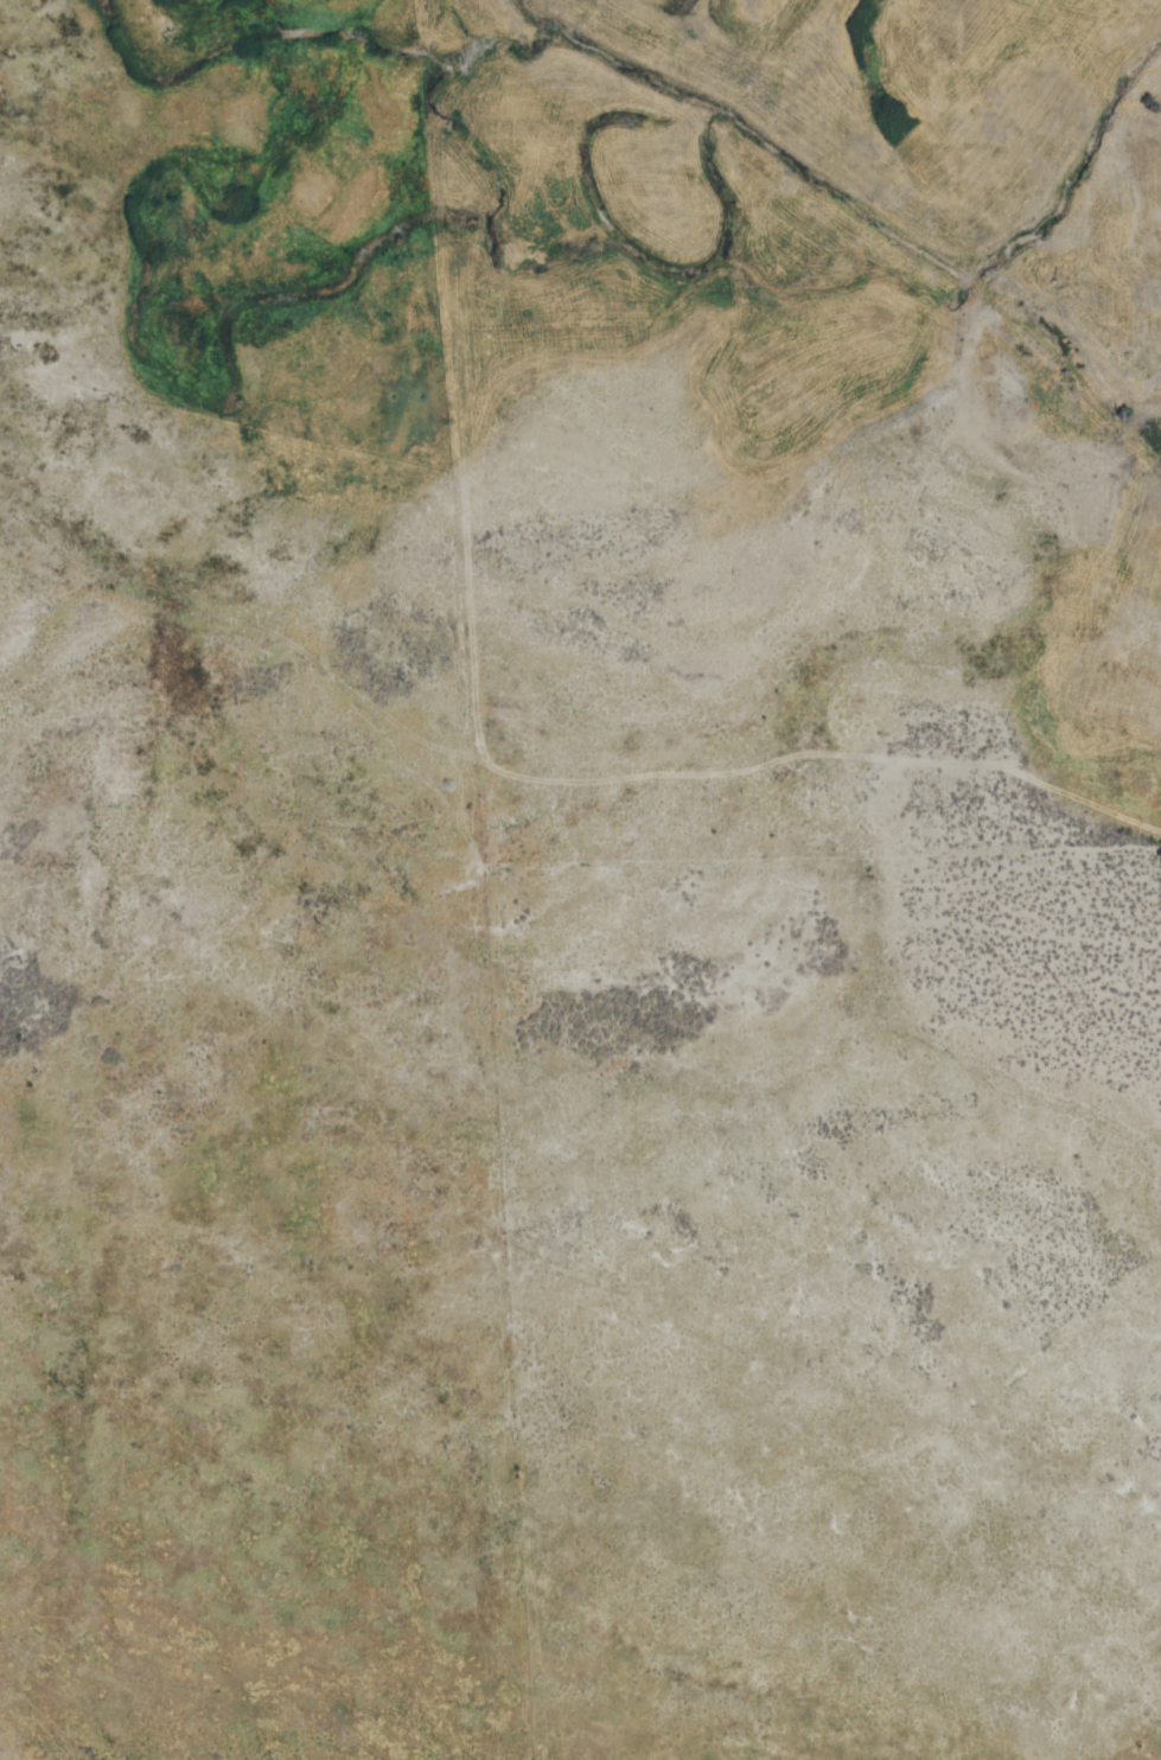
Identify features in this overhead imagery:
road: (551, 776)

